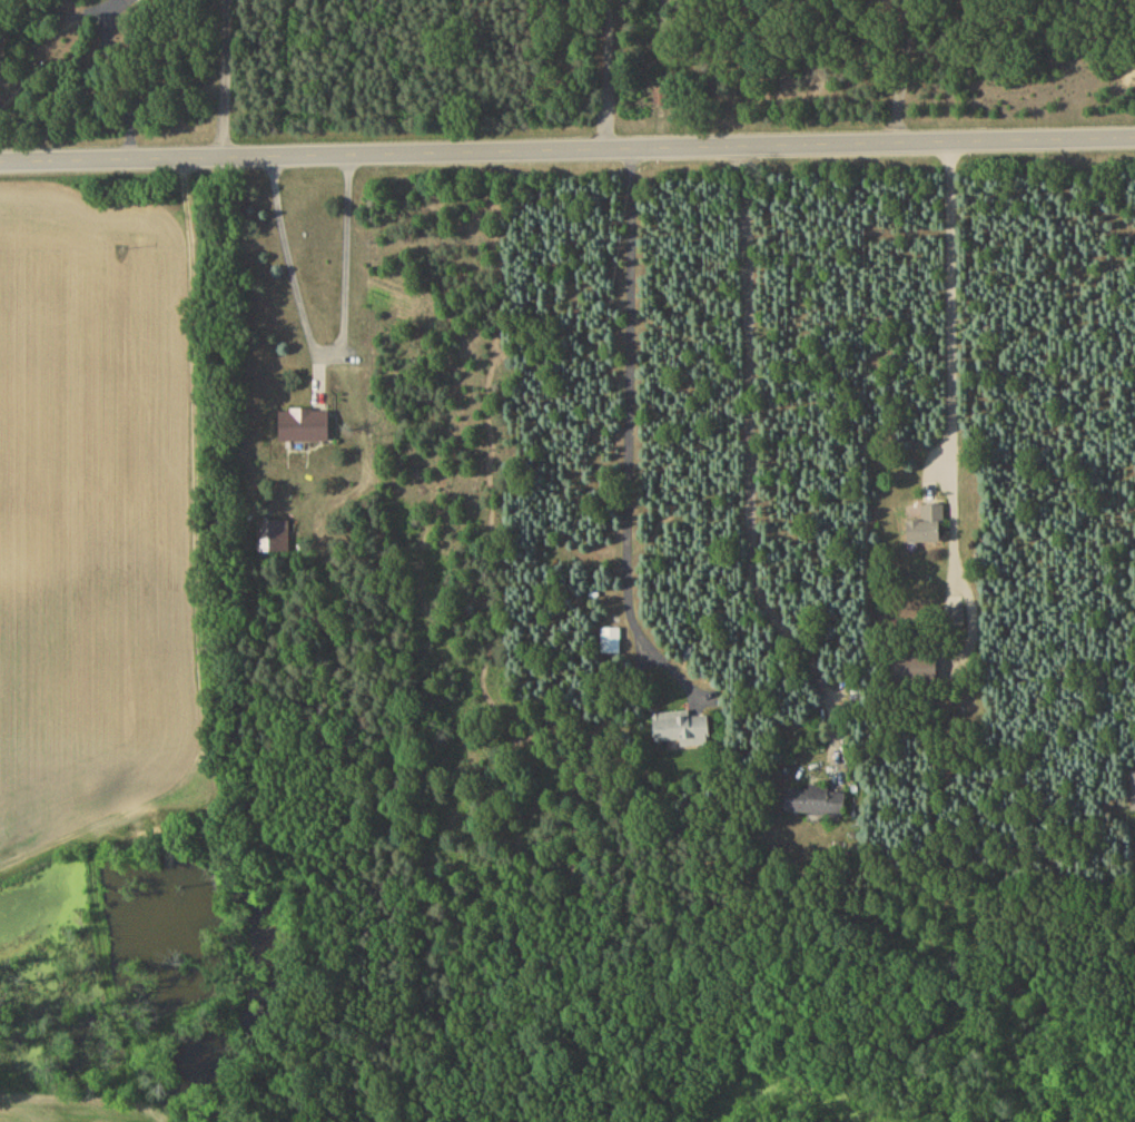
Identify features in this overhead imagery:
building: (149, 1)
road: (2, 31)
road: (605, 76)
road: (226, 78)
road: (129, 81)
building: (660, 99)
road: (567, 151)
road: (324, 351)
road: (950, 360)
road: (631, 405)
building: (305, 429)
road: (749, 462)
building: (928, 530)
building: (274, 540)
building: (611, 643)
building: (682, 731)
building: (817, 805)

